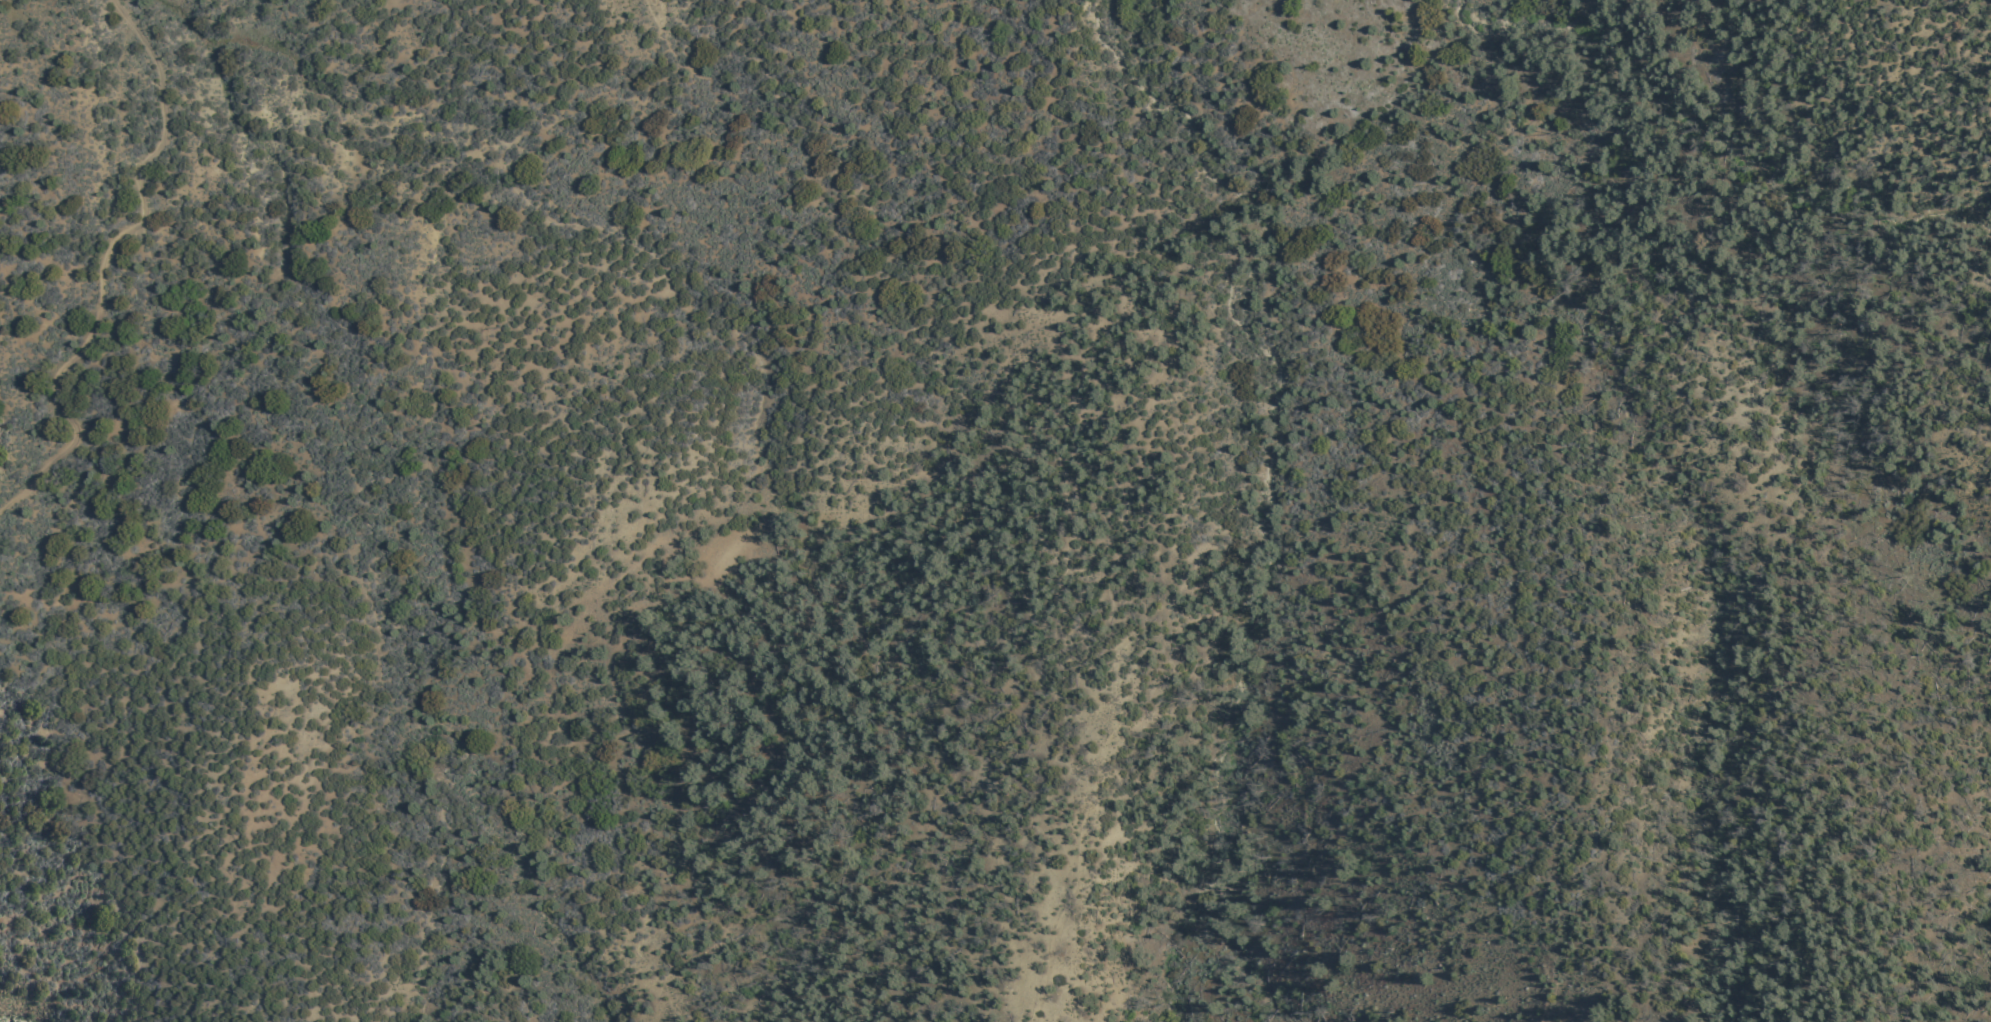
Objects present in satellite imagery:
road: (105, 264)

